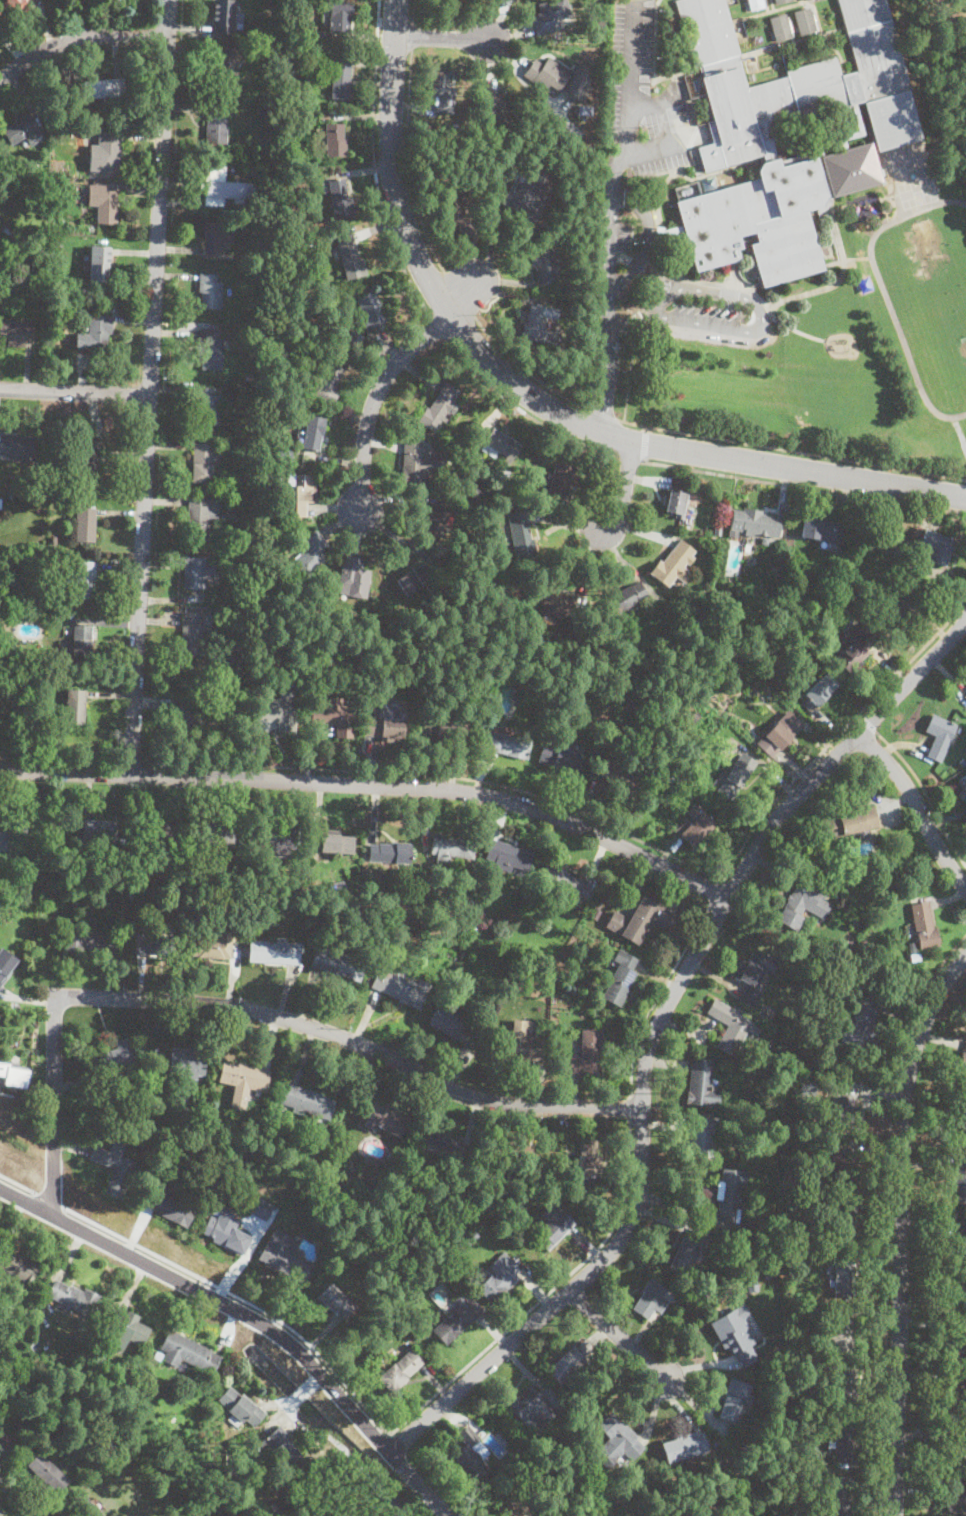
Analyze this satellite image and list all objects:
building: (450, 1)
building: (779, 1)
building: (755, 3)
building: (12, 9)
road: (414, 11)
building: (225, 15)
building: (550, 15)
building: (339, 16)
building: (804, 21)
building: (780, 27)
building: (319, 35)
road: (412, 36)
road: (441, 37)
road: (77, 39)
building: (874, 48)
building: (285, 50)
building: (228, 67)
building: (546, 73)
building: (340, 77)
road: (632, 78)
building: (577, 85)
building: (442, 87)
building: (104, 88)
parking lot: (641, 97)
road: (652, 105)
building: (269, 106)
building: (305, 108)
building: (496, 109)
building: (582, 112)
building: (857, 117)
building: (892, 120)
building: (217, 123)
building: (457, 128)
building: (23, 132)
building: (335, 140)
road: (653, 149)
building: (108, 150)
building: (762, 156)
road: (411, 163)
road: (375, 170)
building: (708, 183)
building: (222, 187)
building: (686, 189)
building: (338, 198)
building: (102, 201)
building: (522, 203)
building: (456, 215)
building: (822, 216)
building: (10, 233)
parking lot: (621, 236)
building: (213, 238)
road: (647, 239)
building: (56, 242)
building: (305, 246)
building: (350, 255)
road: (849, 260)
building: (98, 263)
building: (544, 264)
building: (252, 275)
building: (864, 284)
building: (210, 291)
road: (610, 292)
road: (729, 293)
road: (459, 295)
road: (465, 297)
track: (929, 297)
park: (931, 297)
road: (778, 304)
building: (367, 309)
road: (762, 311)
parking lot: (705, 313)
road: (627, 324)
building: (539, 327)
building: (98, 331)
building: (14, 333)
building: (355, 336)
building: (249, 346)
building: (210, 348)
road: (526, 371)
road: (630, 376)
building: (324, 381)
building: (572, 385)
road: (148, 386)
road: (74, 390)
building: (245, 395)
road: (535, 396)
road: (375, 398)
building: (207, 405)
building: (437, 409)
road: (603, 416)
road: (647, 428)
road: (961, 429)
building: (312, 435)
building: (502, 442)
building: (17, 446)
road: (645, 446)
road: (792, 450)
building: (284, 454)
building: (202, 461)
building: (91, 462)
building: (412, 469)
road: (743, 477)
building: (564, 480)
building: (53, 483)
road: (621, 486)
building: (239, 490)
building: (300, 492)
building: (11, 498)
building: (0, 502)
building: (676, 502)
building: (200, 517)
building: (436, 520)
building: (753, 521)
building: (688, 523)
building: (85, 524)
building: (240, 525)
building: (717, 528)
building: (822, 529)
building: (520, 533)
building: (54, 541)
building: (231, 546)
building: (746, 546)
building: (937, 547)
building: (898, 553)
building: (309, 554)
building: (674, 564)
building: (773, 569)
building: (196, 572)
building: (351, 578)
building: (412, 579)
building: (86, 580)
building: (883, 587)
building: (624, 598)
building: (555, 602)
building: (895, 609)
building: (192, 633)
building: (80, 642)
building: (854, 648)
building: (233, 649)
building: (219, 685)
building: (466, 688)
building: (821, 690)
building: (965, 696)
building: (278, 708)
building: (82, 710)
building: (692, 715)
building: (334, 716)
building: (187, 720)
road: (868, 722)
building: (387, 723)
building: (442, 726)
building: (686, 732)
building: (779, 733)
building: (939, 736)
building: (505, 744)
building: (560, 760)
building: (669, 774)
building: (737, 774)
building: (619, 777)
building: (962, 784)
road: (375, 785)
building: (678, 788)
road: (927, 793)
road: (915, 806)
building: (849, 822)
building: (9, 829)
building: (98, 829)
building: (697, 829)
building: (212, 831)
building: (155, 832)
building: (263, 836)
building: (325, 846)
building: (450, 848)
building: (388, 852)
building: (504, 855)
road: (674, 857)
building: (51, 870)
building: (565, 882)
road: (717, 892)
building: (129, 895)
building: (804, 902)
building: (596, 913)
building: (639, 919)
building: (923, 925)
building: (88, 942)
building: (153, 942)
building: (212, 944)
building: (864, 946)
building: (273, 951)
building: (914, 954)
building: (337, 963)
building: (5, 966)
building: (754, 975)
building: (620, 978)
building: (399, 986)
road: (659, 996)
road: (245, 1010)
building: (861, 1020)
building: (452, 1024)
building: (733, 1027)
road: (655, 1033)
building: (519, 1041)
building: (588, 1052)
building: (115, 1059)
building: (188, 1062)
building: (962, 1070)
building: (13, 1076)
building: (244, 1080)
building: (701, 1084)
building: (178, 1098)
building: (305, 1100)
road: (630, 1108)
building: (847, 1112)
building: (386, 1119)
building: (274, 1122)
building: (960, 1126)
building: (699, 1137)
building: (528, 1142)
building: (170, 1145)
building: (441, 1145)
building: (593, 1156)
building: (417, 1164)
building: (845, 1166)
building: (116, 1167)
building: (328, 1176)
building: (960, 1181)
building: (729, 1194)
building: (169, 1208)
building: (260, 1208)
road: (890, 1216)
building: (503, 1217)
building: (845, 1222)
building: (798, 1224)
road: (904, 1226)
building: (553, 1229)
building: (357, 1233)
building: (227, 1235)
building: (470, 1237)
building: (806, 1237)
building: (958, 1239)
building: (281, 1254)
building: (685, 1254)
building: (16, 1262)
building: (767, 1272)
building: (499, 1279)
building: (844, 1279)
building: (752, 1285)
building: (956, 1289)
building: (704, 1291)
building: (75, 1297)
building: (652, 1299)
building: (333, 1300)
building: (459, 1316)
road: (248, 1319)
building: (124, 1330)
building: (841, 1335)
building: (735, 1337)
road: (621, 1338)
building: (29, 1345)
building: (957, 1345)
building: (188, 1352)
building: (158, 1356)
building: (570, 1361)
building: (401, 1371)
building: (847, 1394)
building: (955, 1397)
building: (529, 1402)
building: (733, 1402)
building: (241, 1406)
building: (821, 1420)
road: (389, 1430)
building: (621, 1435)
building: (843, 1440)
building: (280, 1446)
building: (684, 1446)
building: (4, 1448)
building: (954, 1452)
building: (470, 1454)
building: (48, 1472)
building: (730, 1480)
building: (303, 1490)
building: (601, 1494)
building: (834, 1495)
building: (734, 1496)
building: (572, 1498)
building: (956, 1499)
building: (510, 1503)
building: (84, 1505)
building: (273, 1510)
road: (2, 1514)

